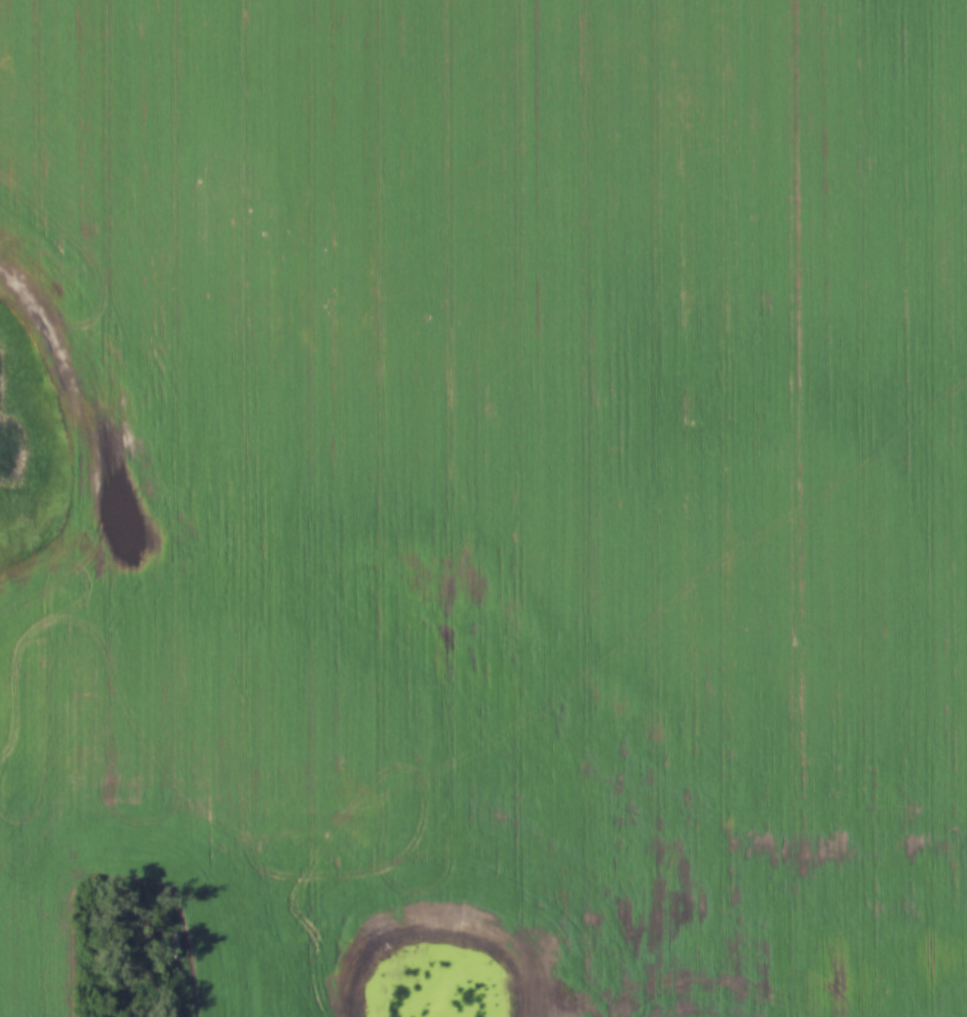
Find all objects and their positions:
building: (172, 944)

